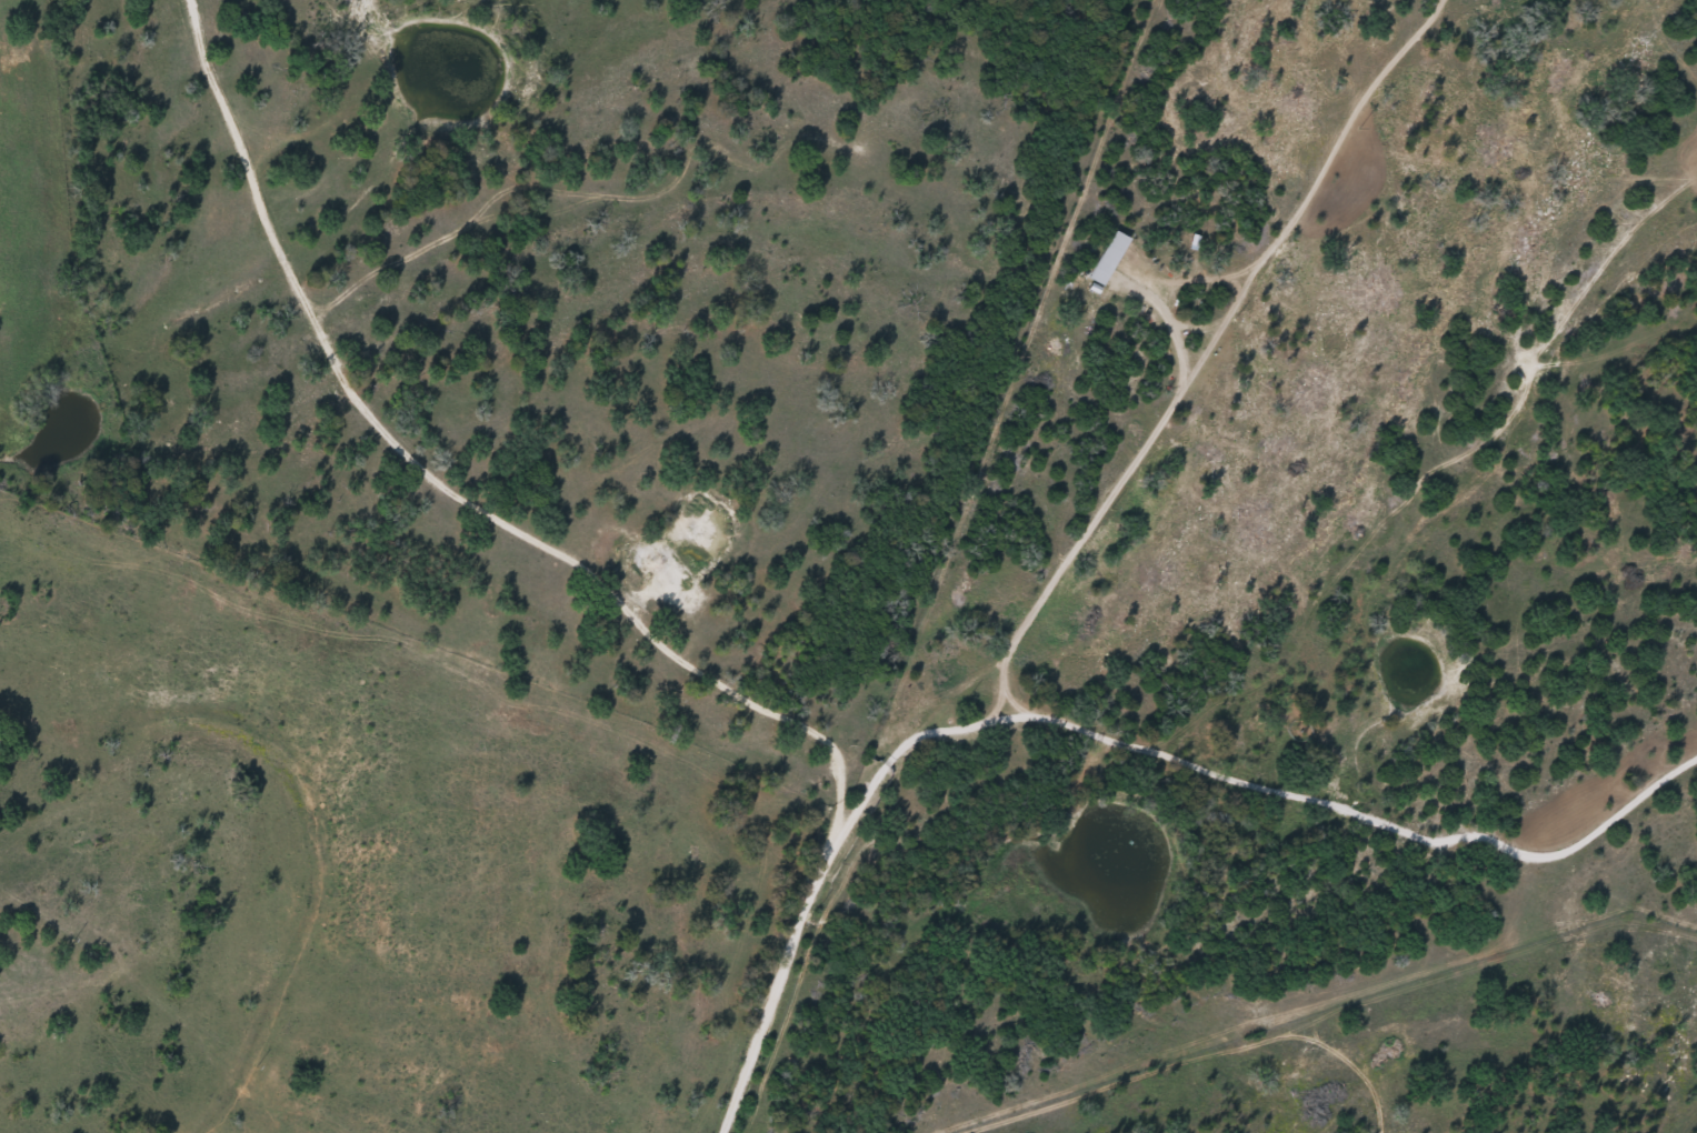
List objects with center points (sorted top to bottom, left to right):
road: (467, 524)
road: (1355, 770)
road: (775, 1042)

